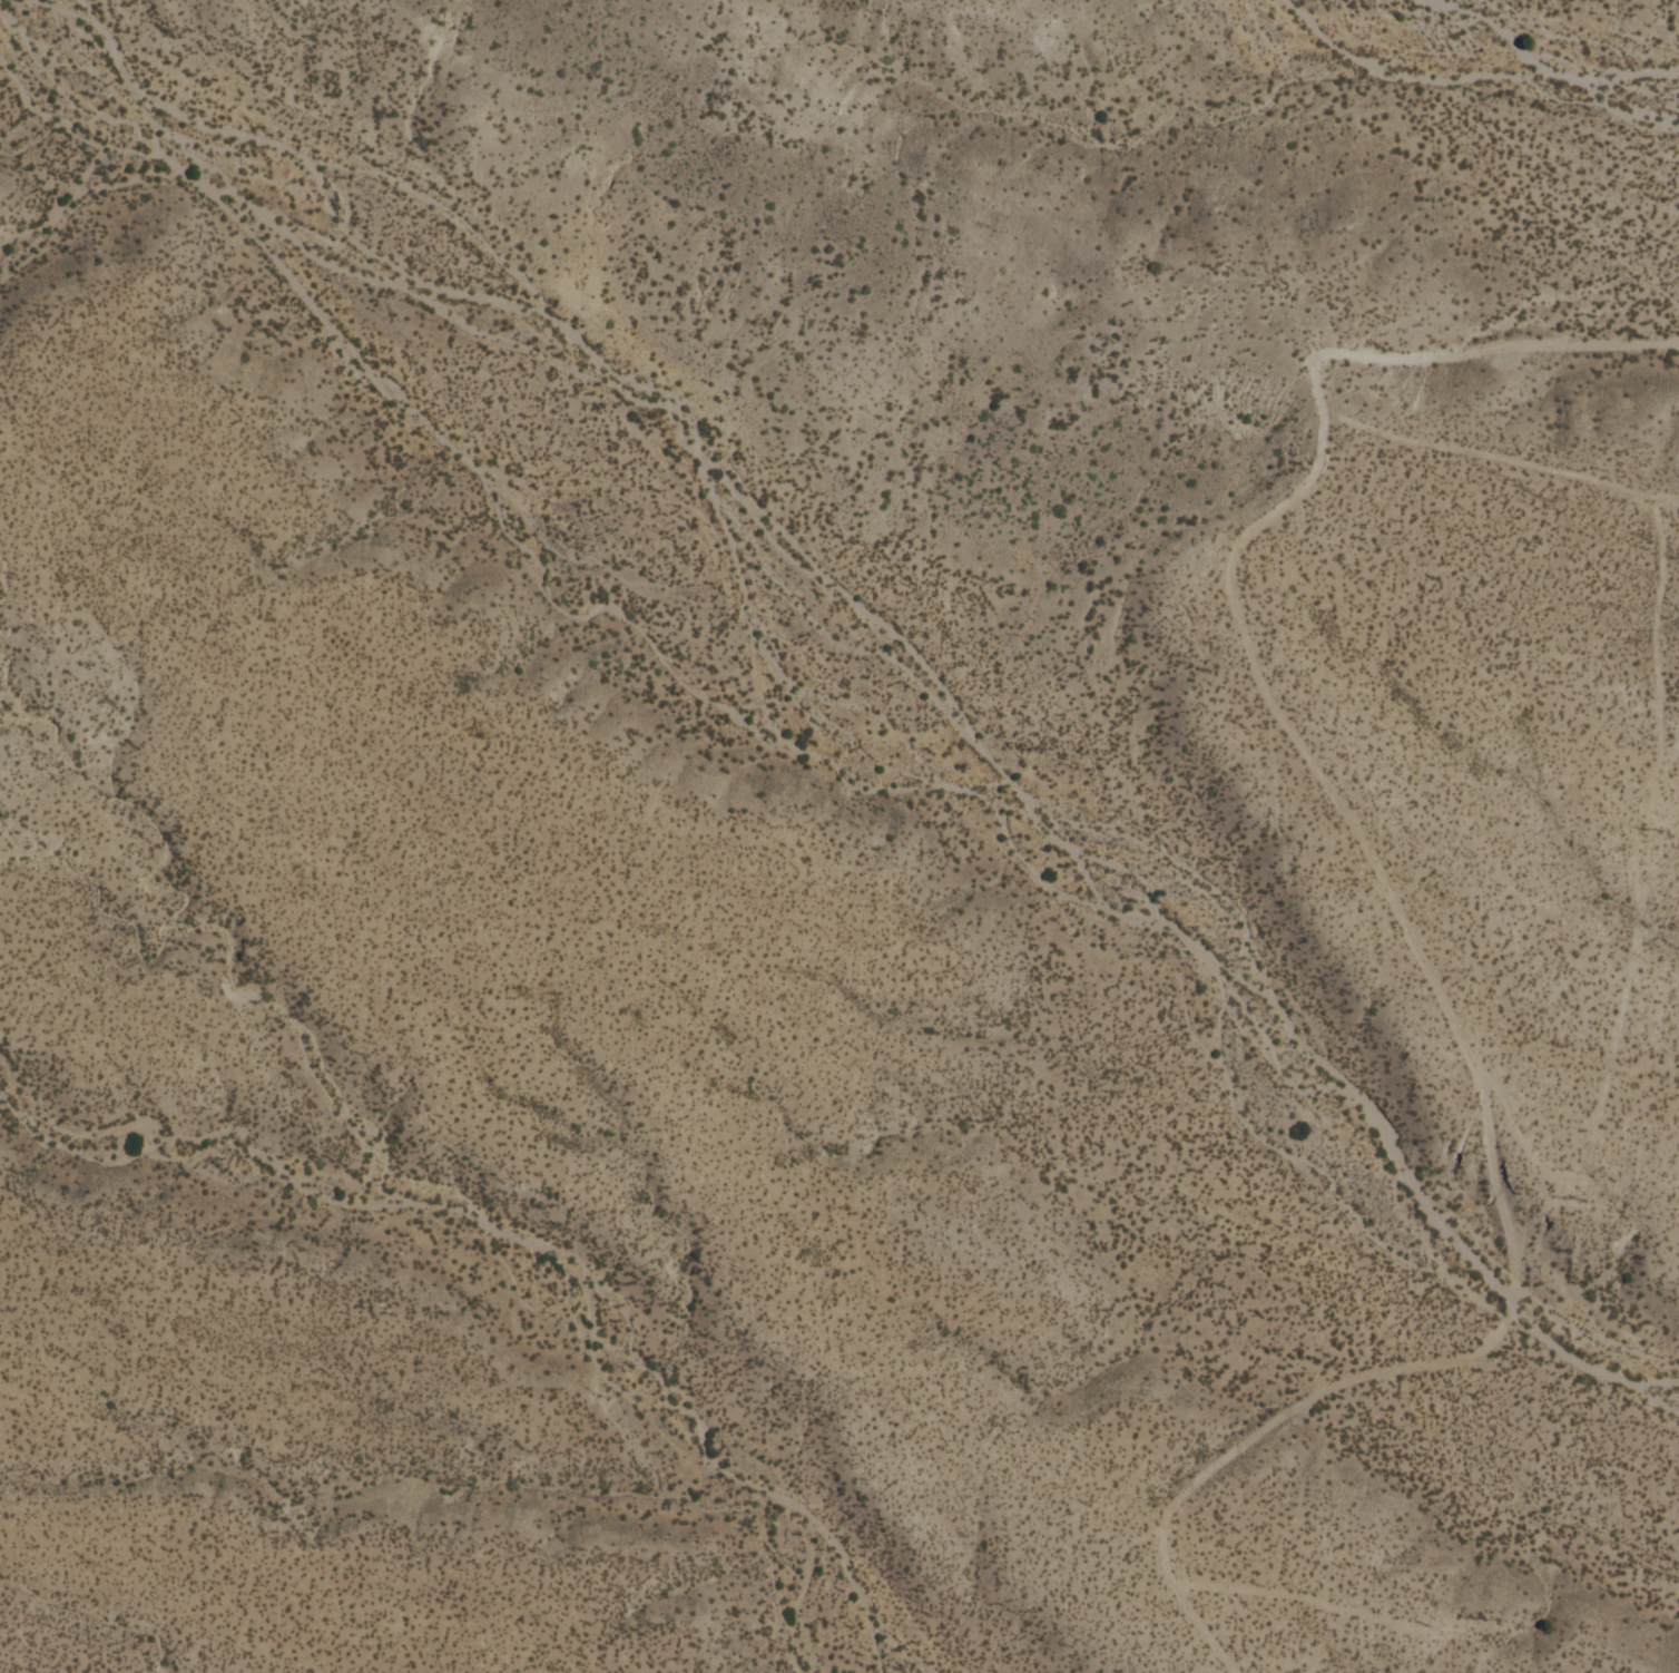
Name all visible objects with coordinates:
road: (1466, 351)
road: (1483, 457)
road: (1665, 502)
road: (1652, 628)
road: (1277, 717)
road: (1670, 740)
road: (1604, 1068)
road: (1430, 1362)
road: (1329, 1608)
road: (1198, 1631)

